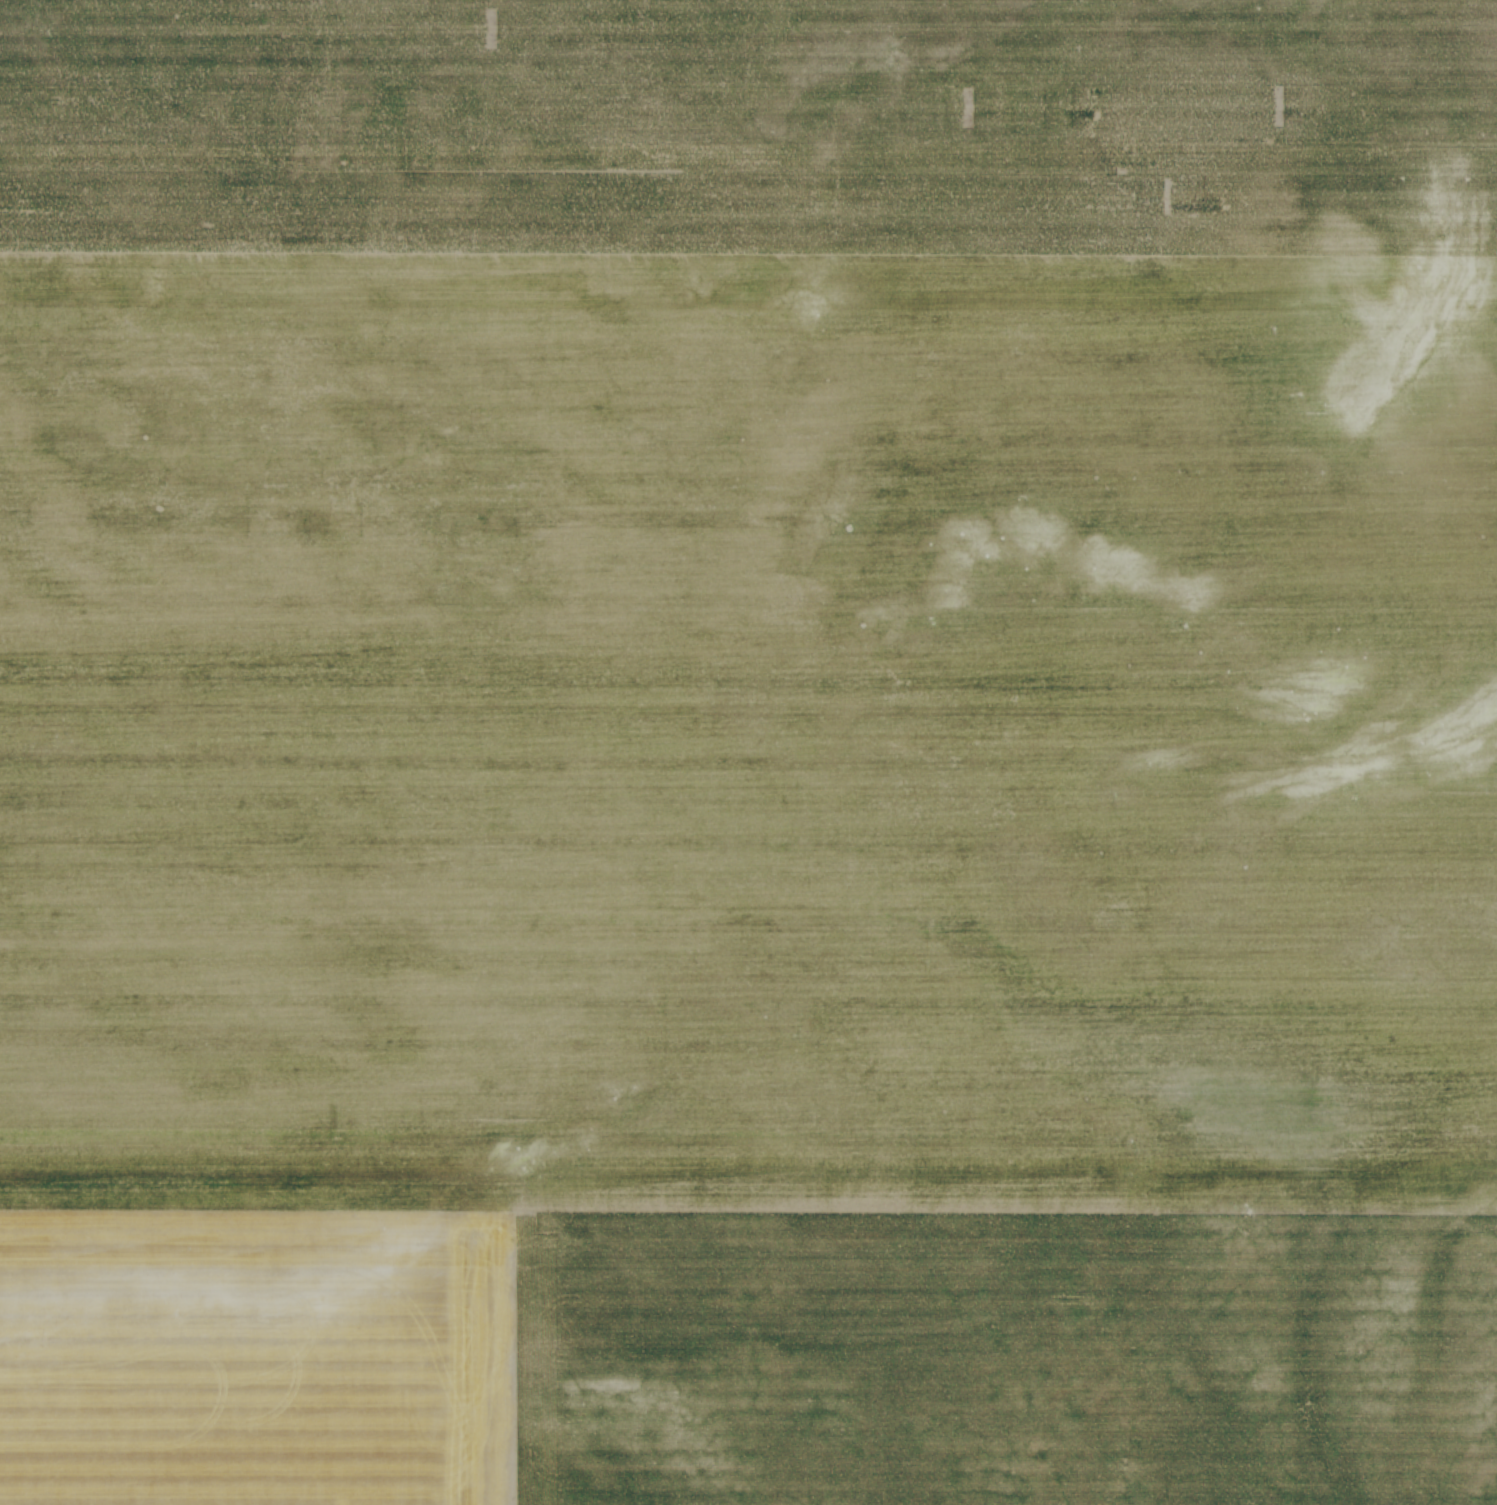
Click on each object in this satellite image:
crop: (748, 752)

